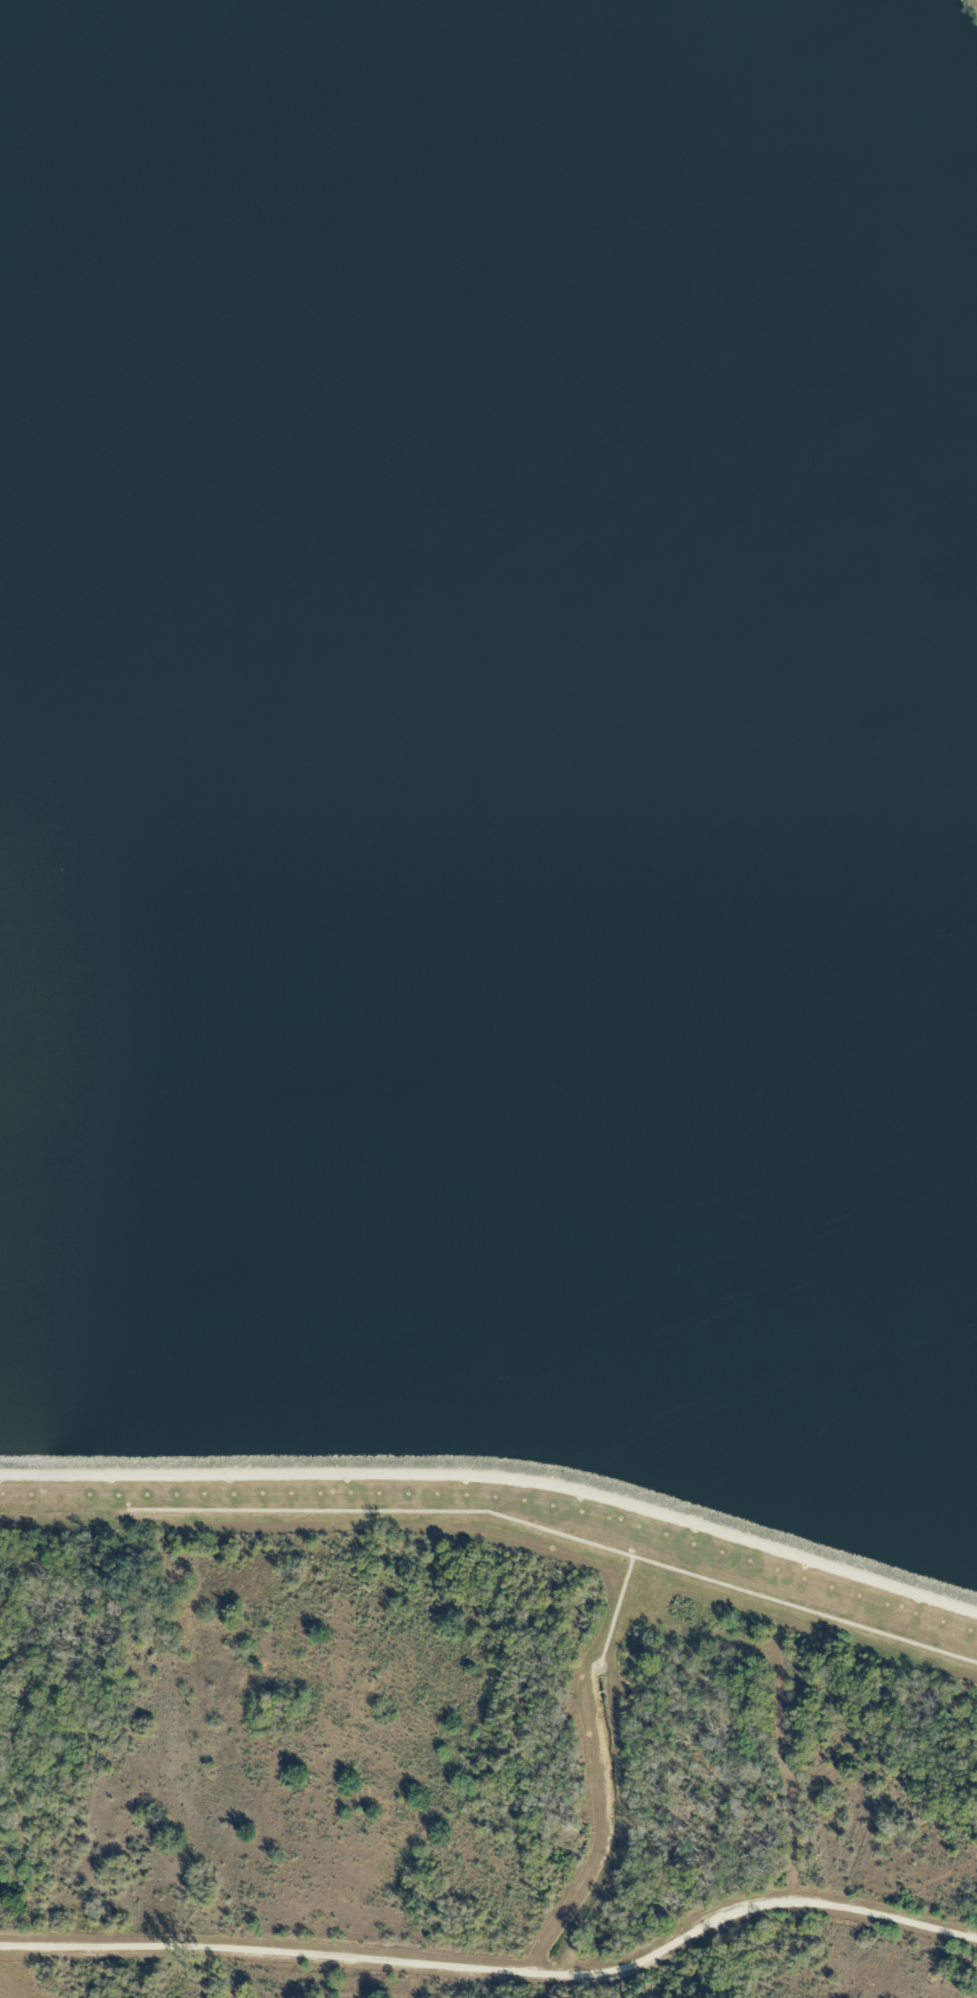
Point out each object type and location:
road: (973, 4)
dam: (498, 1478)
road: (498, 1478)
road: (804, 1932)
road: (224, 1970)

